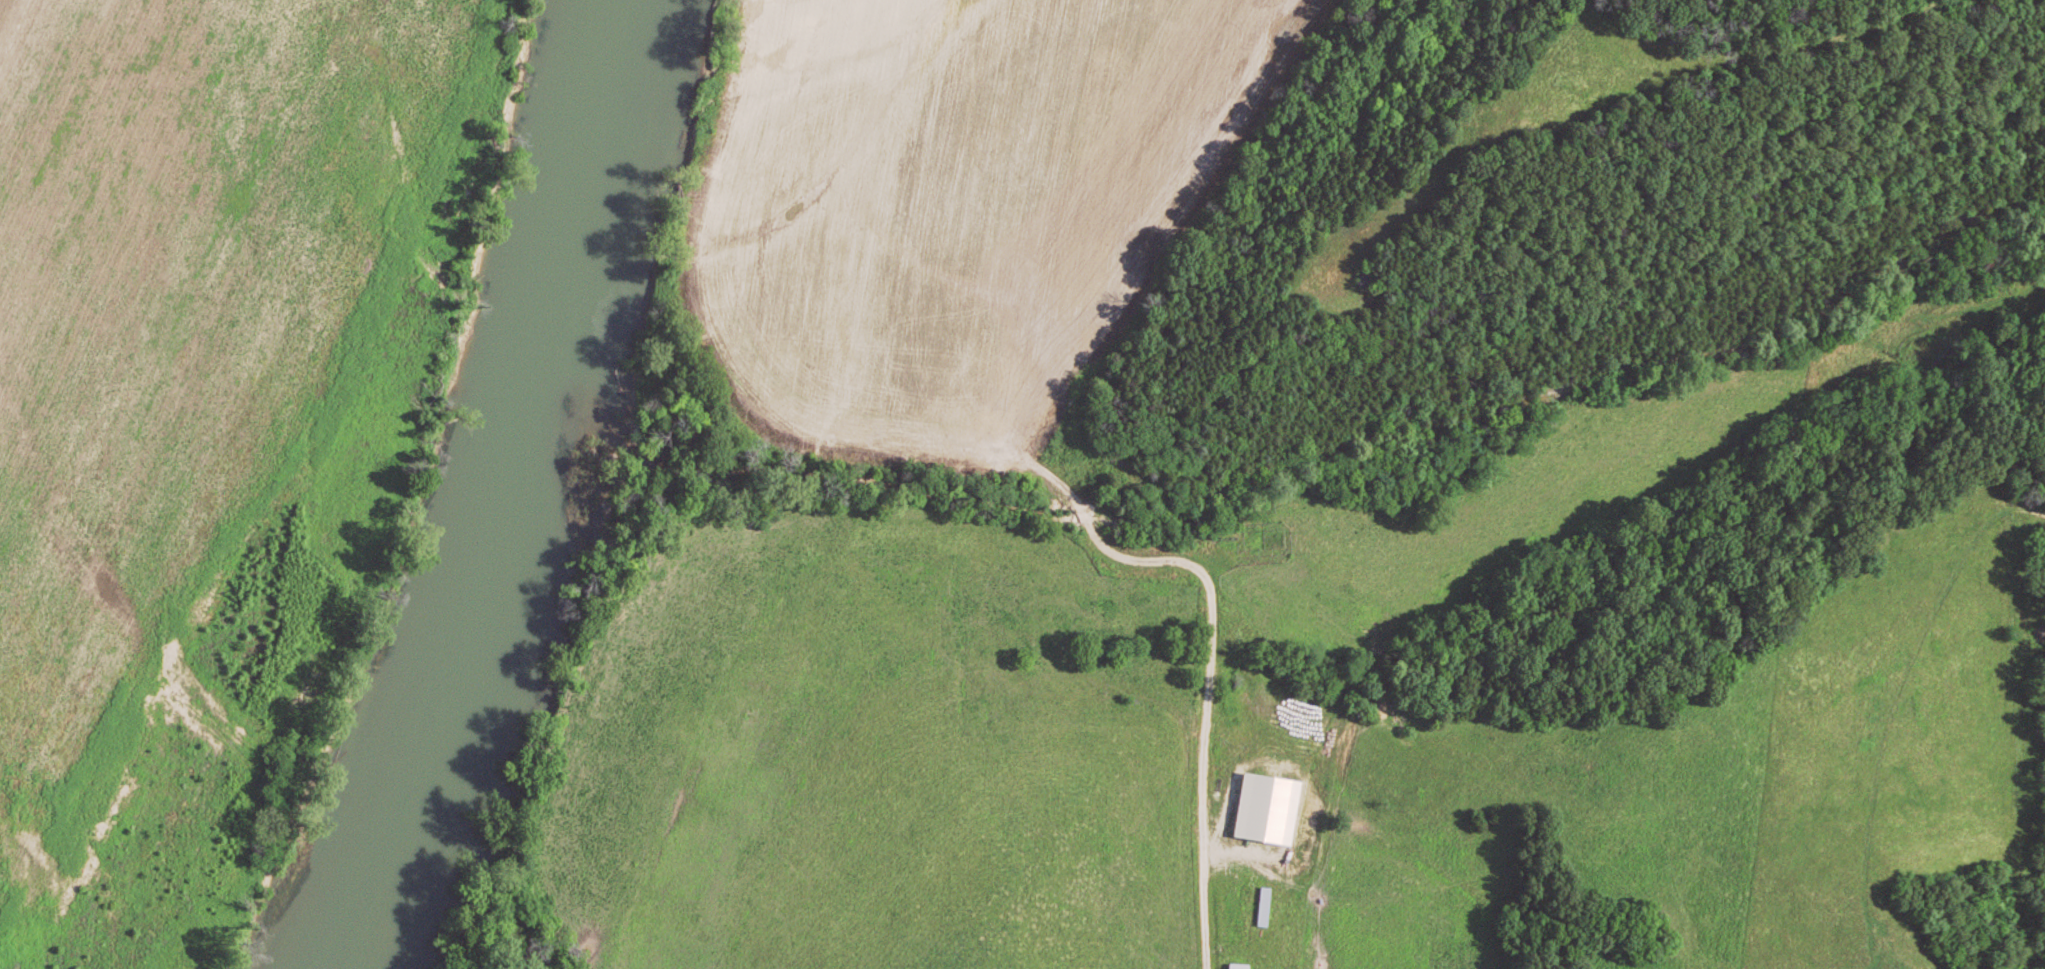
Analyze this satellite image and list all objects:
river: (501, 485)
road: (405, 501)
road: (1161, 566)
building: (1269, 811)
road: (1271, 877)

